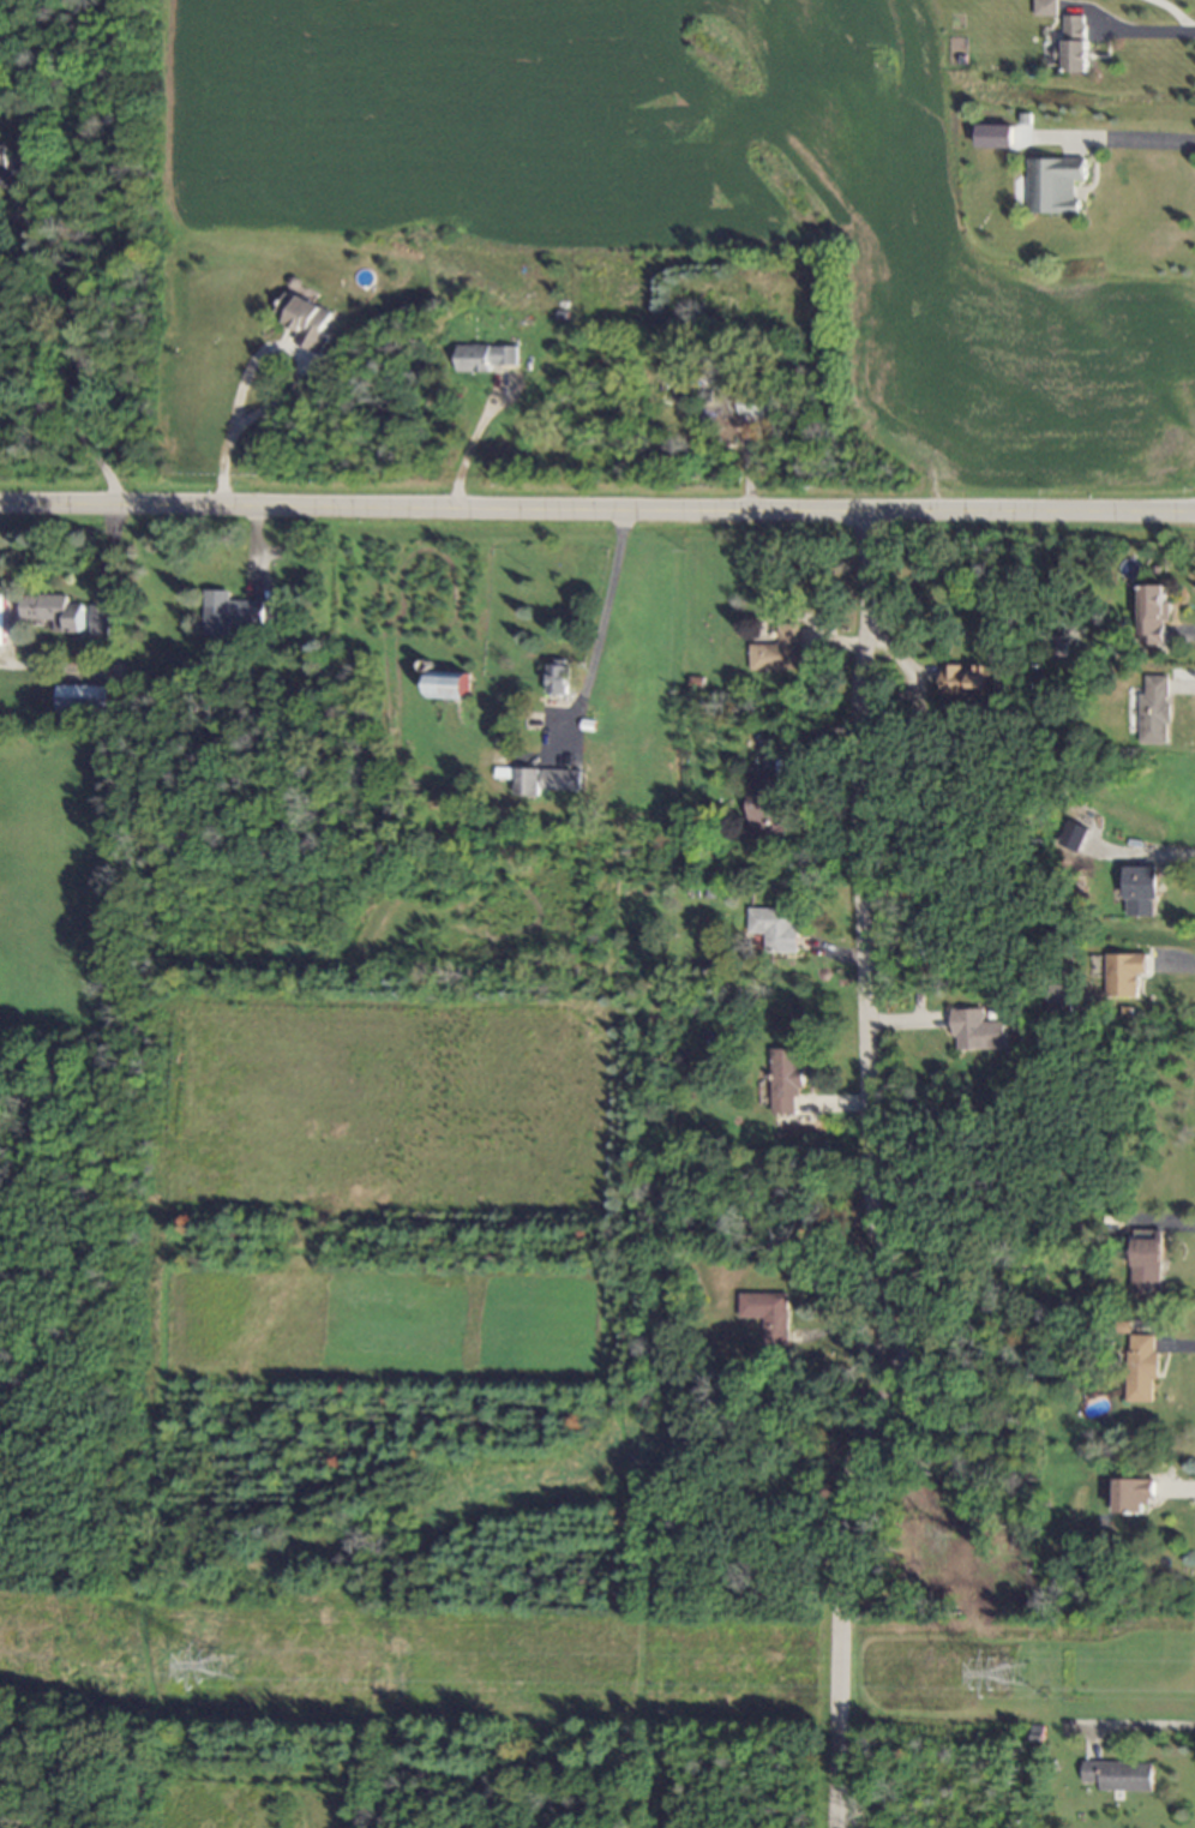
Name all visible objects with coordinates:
building: (1046, 7)
road: (1149, 32)
building: (1074, 44)
building: (995, 137)
road: (1135, 146)
building: (13, 170)
building: (1055, 185)
crop: (678, 186)
building: (305, 322)
building: (485, 358)
road: (71, 383)
building: (757, 409)
road: (470, 445)
road: (226, 446)
road: (597, 511)
building: (53, 611)
building: (229, 613)
building: (1154, 615)
building: (1, 621)
building: (98, 621)
road: (601, 627)
building: (1057, 647)
building: (779, 651)
building: (558, 679)
building: (967, 681)
building: (450, 685)
building: (82, 700)
building: (1154, 711)
building: (562, 780)
building: (528, 783)
building: (768, 805)
building: (1141, 892)
building: (776, 928)
building: (1124, 973)
building: (977, 1031)
building: (787, 1080)
road: (864, 1171)
building: (1147, 1265)
building: (769, 1315)
building: (1143, 1368)
building: (1136, 1494)
road: (753, 1506)
power tower: (215, 1665)
power tower: (1016, 1672)
road: (1139, 1725)
building: (1121, 1775)

